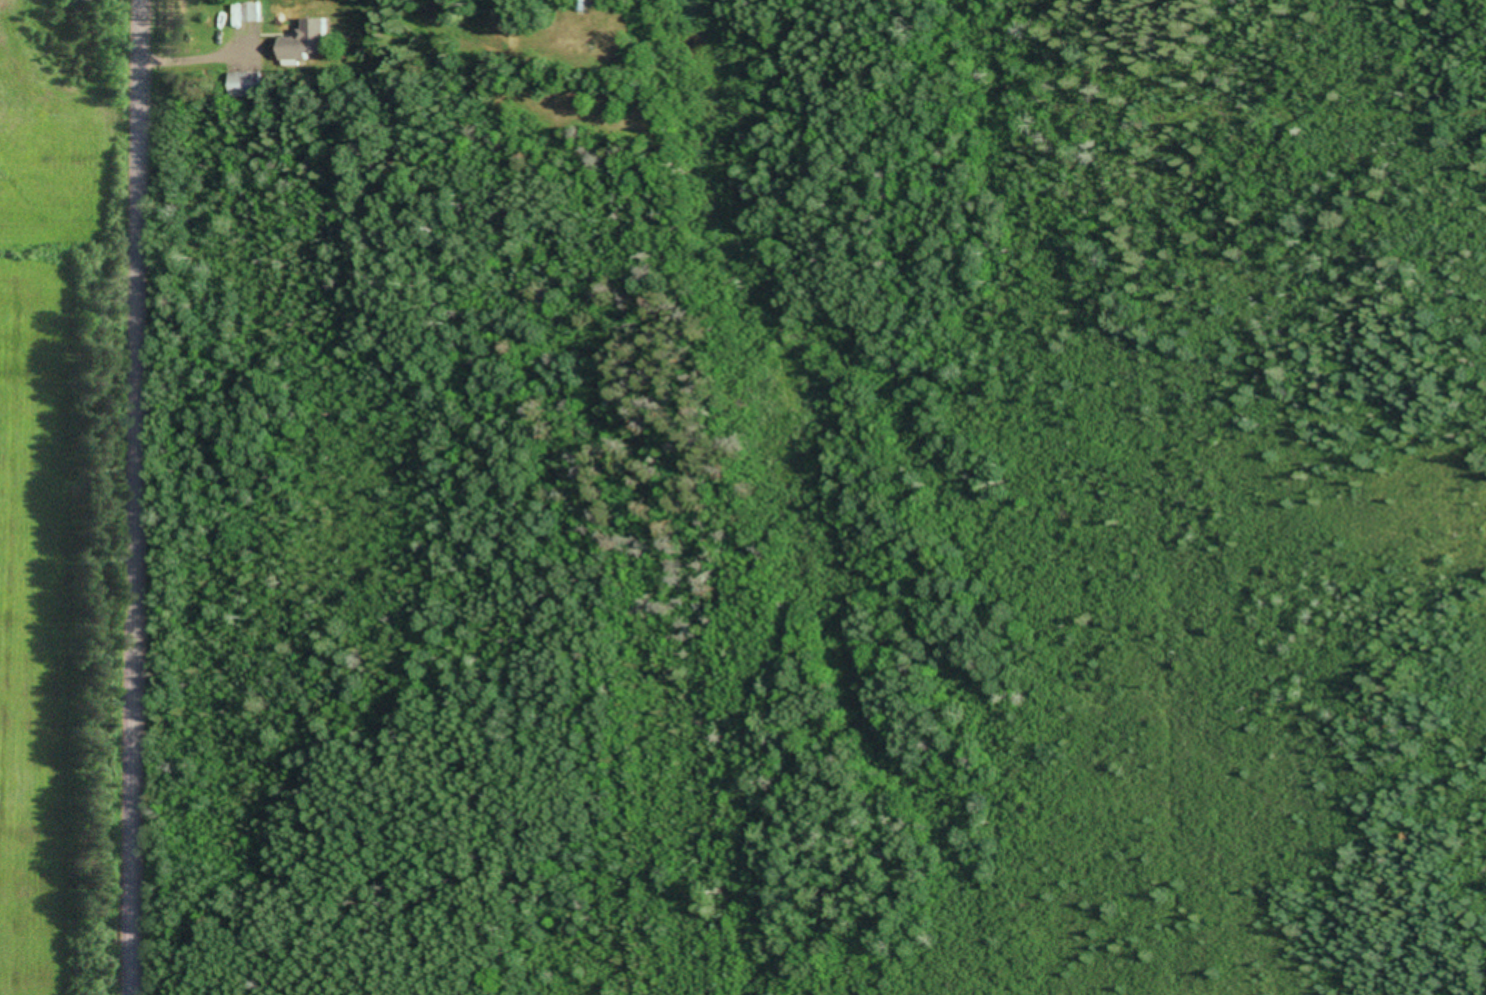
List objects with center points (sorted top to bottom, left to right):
building: (251, 15)
building: (306, 44)
building: (247, 86)
road: (138, 497)

